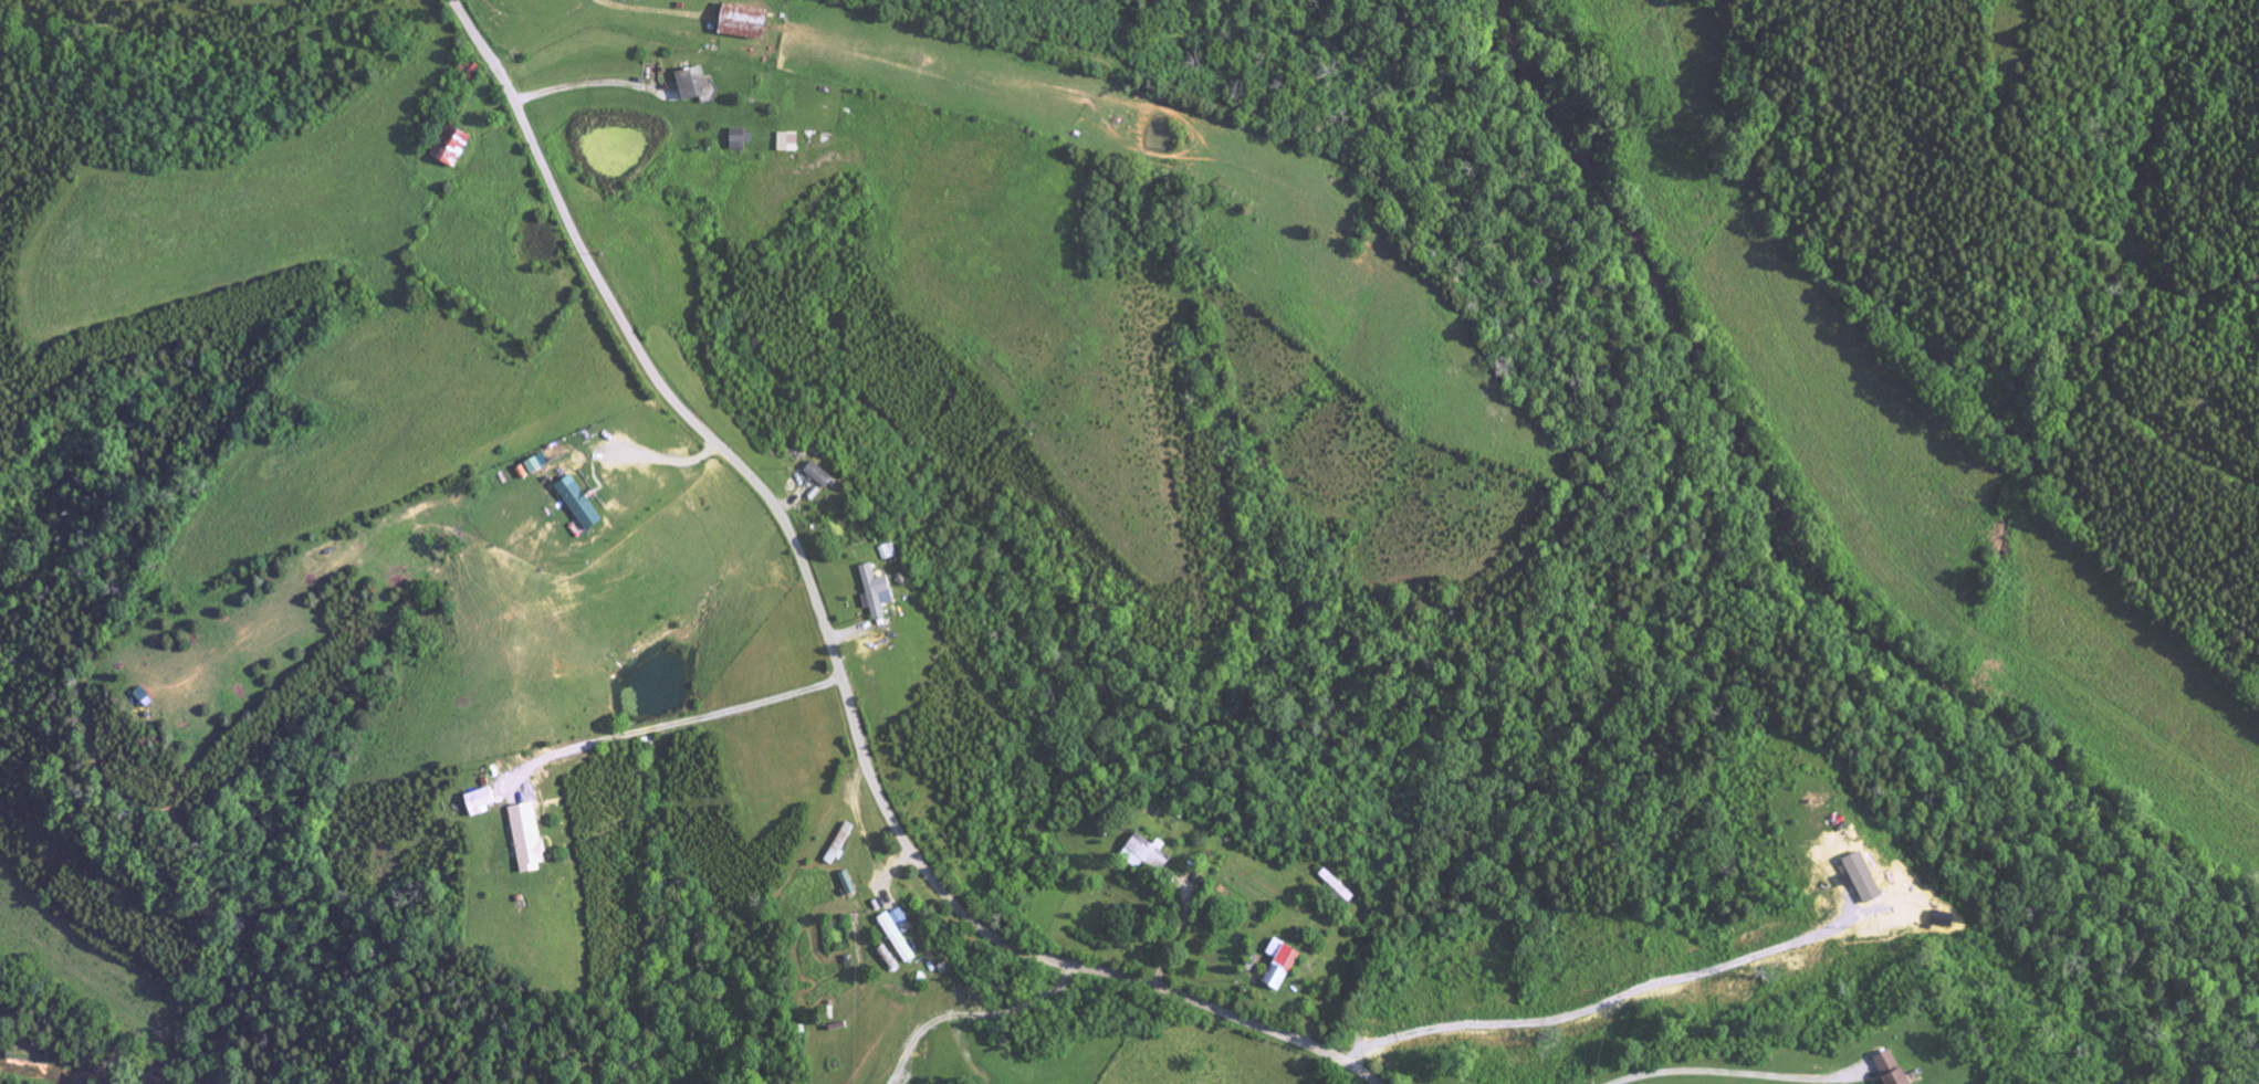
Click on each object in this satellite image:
road: (636, 9)
building: (739, 22)
road: (576, 75)
building: (690, 83)
building: (738, 140)
building: (786, 143)
building: (448, 147)
road: (661, 461)
building: (817, 475)
building: (577, 503)
road: (830, 643)
road: (671, 724)
building: (478, 800)
building: (526, 836)
building: (1142, 854)
building: (1337, 888)
building: (897, 933)
building: (1278, 965)
road: (1602, 1008)
road: (971, 1015)
road: (1737, 1070)
building: (1889, 1070)

